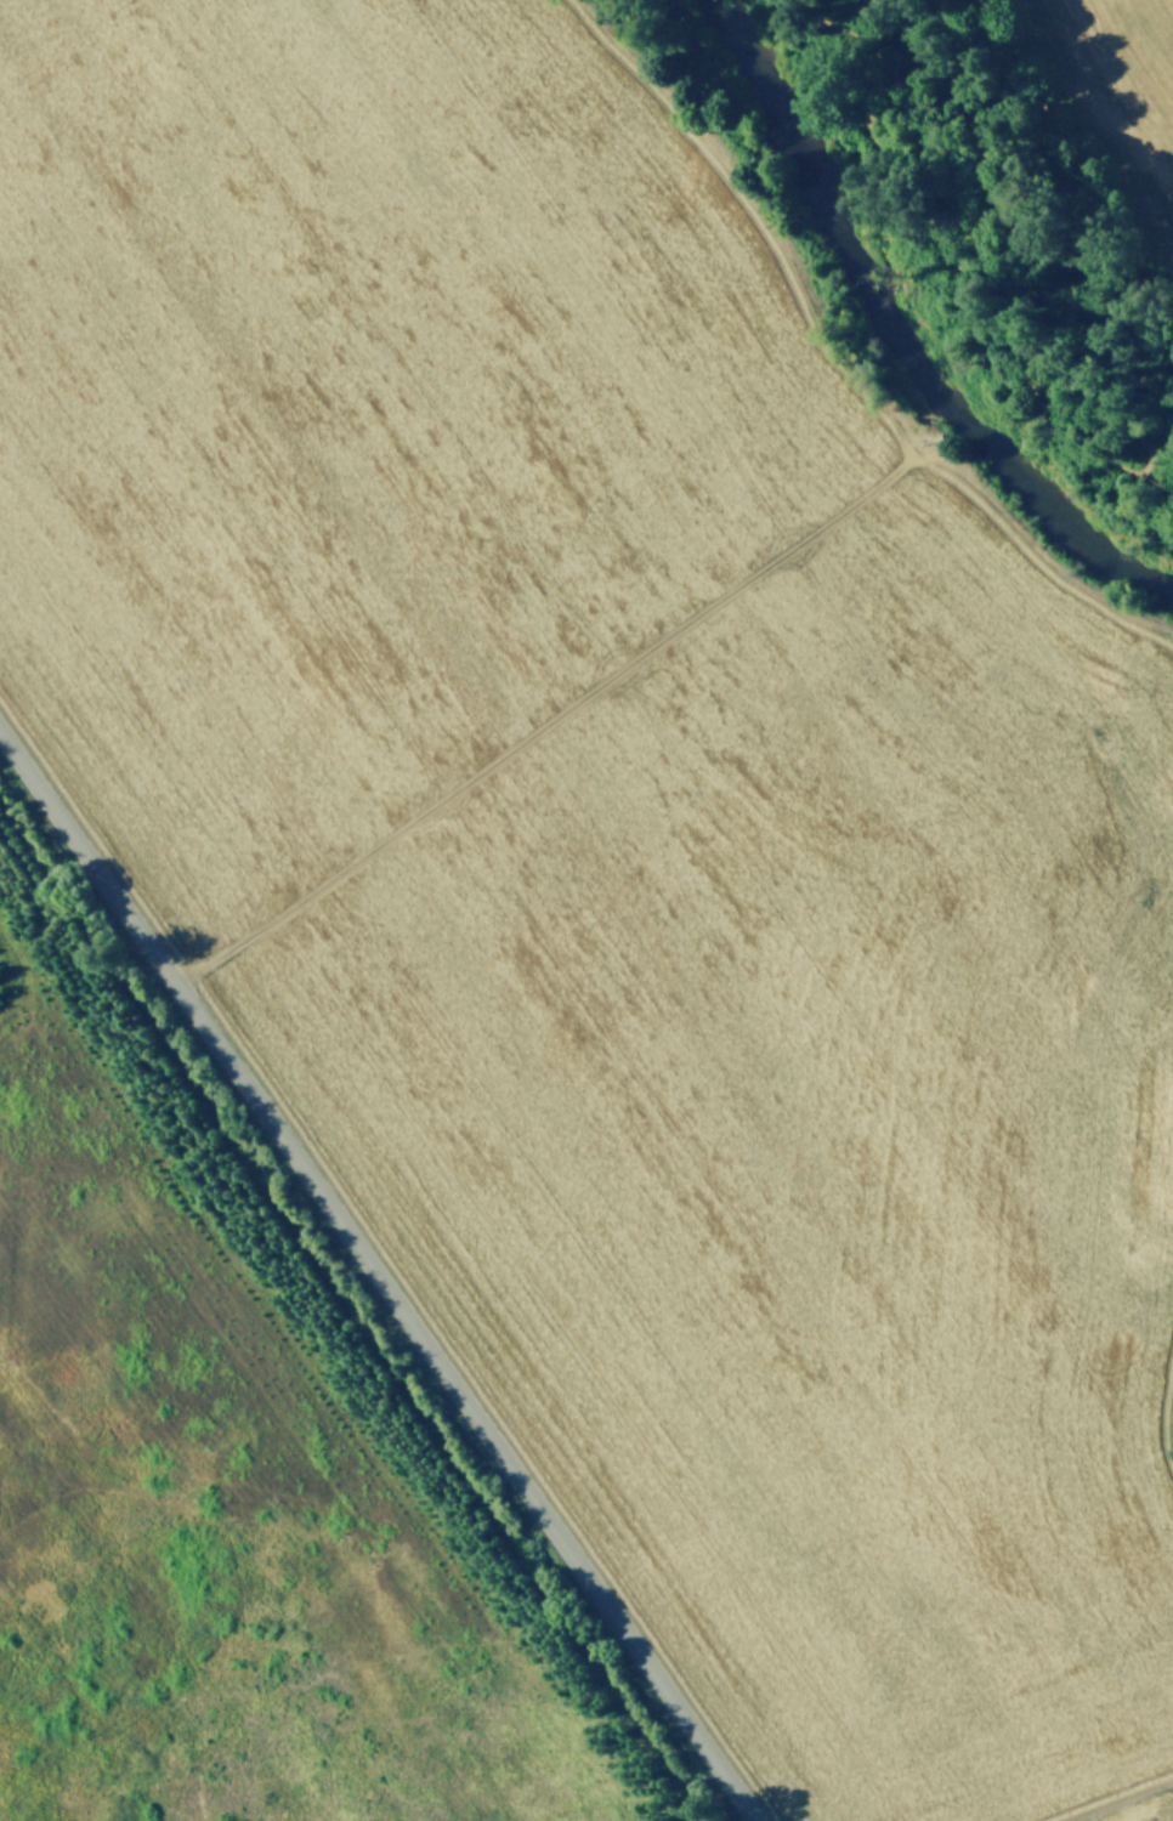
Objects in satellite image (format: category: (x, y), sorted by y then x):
crop: (1123, 86)
river: (901, 329)
crop: (543, 986)
road: (376, 1278)

